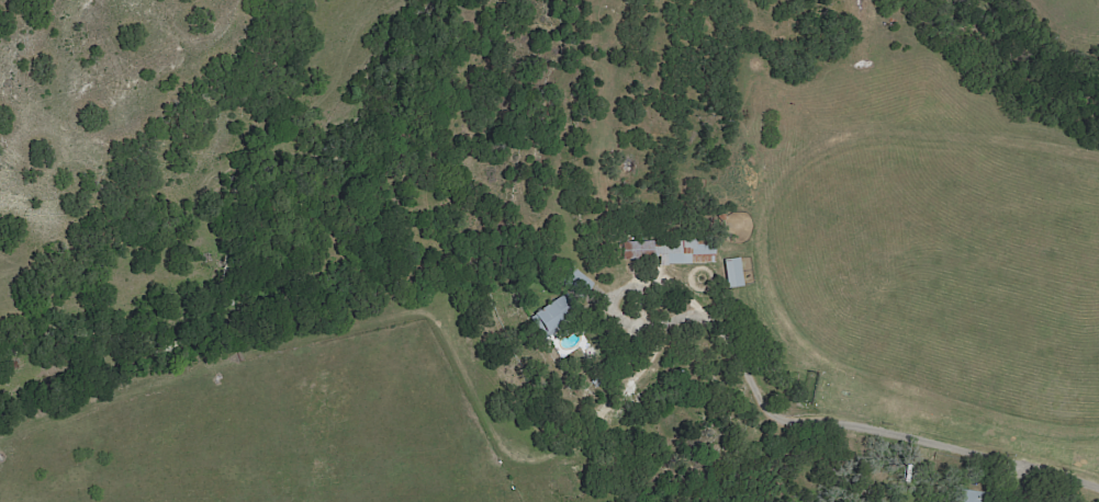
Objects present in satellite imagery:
building: (673, 251)
building: (732, 273)
building: (571, 282)
building: (546, 312)
road: (866, 427)
building: (973, 497)

